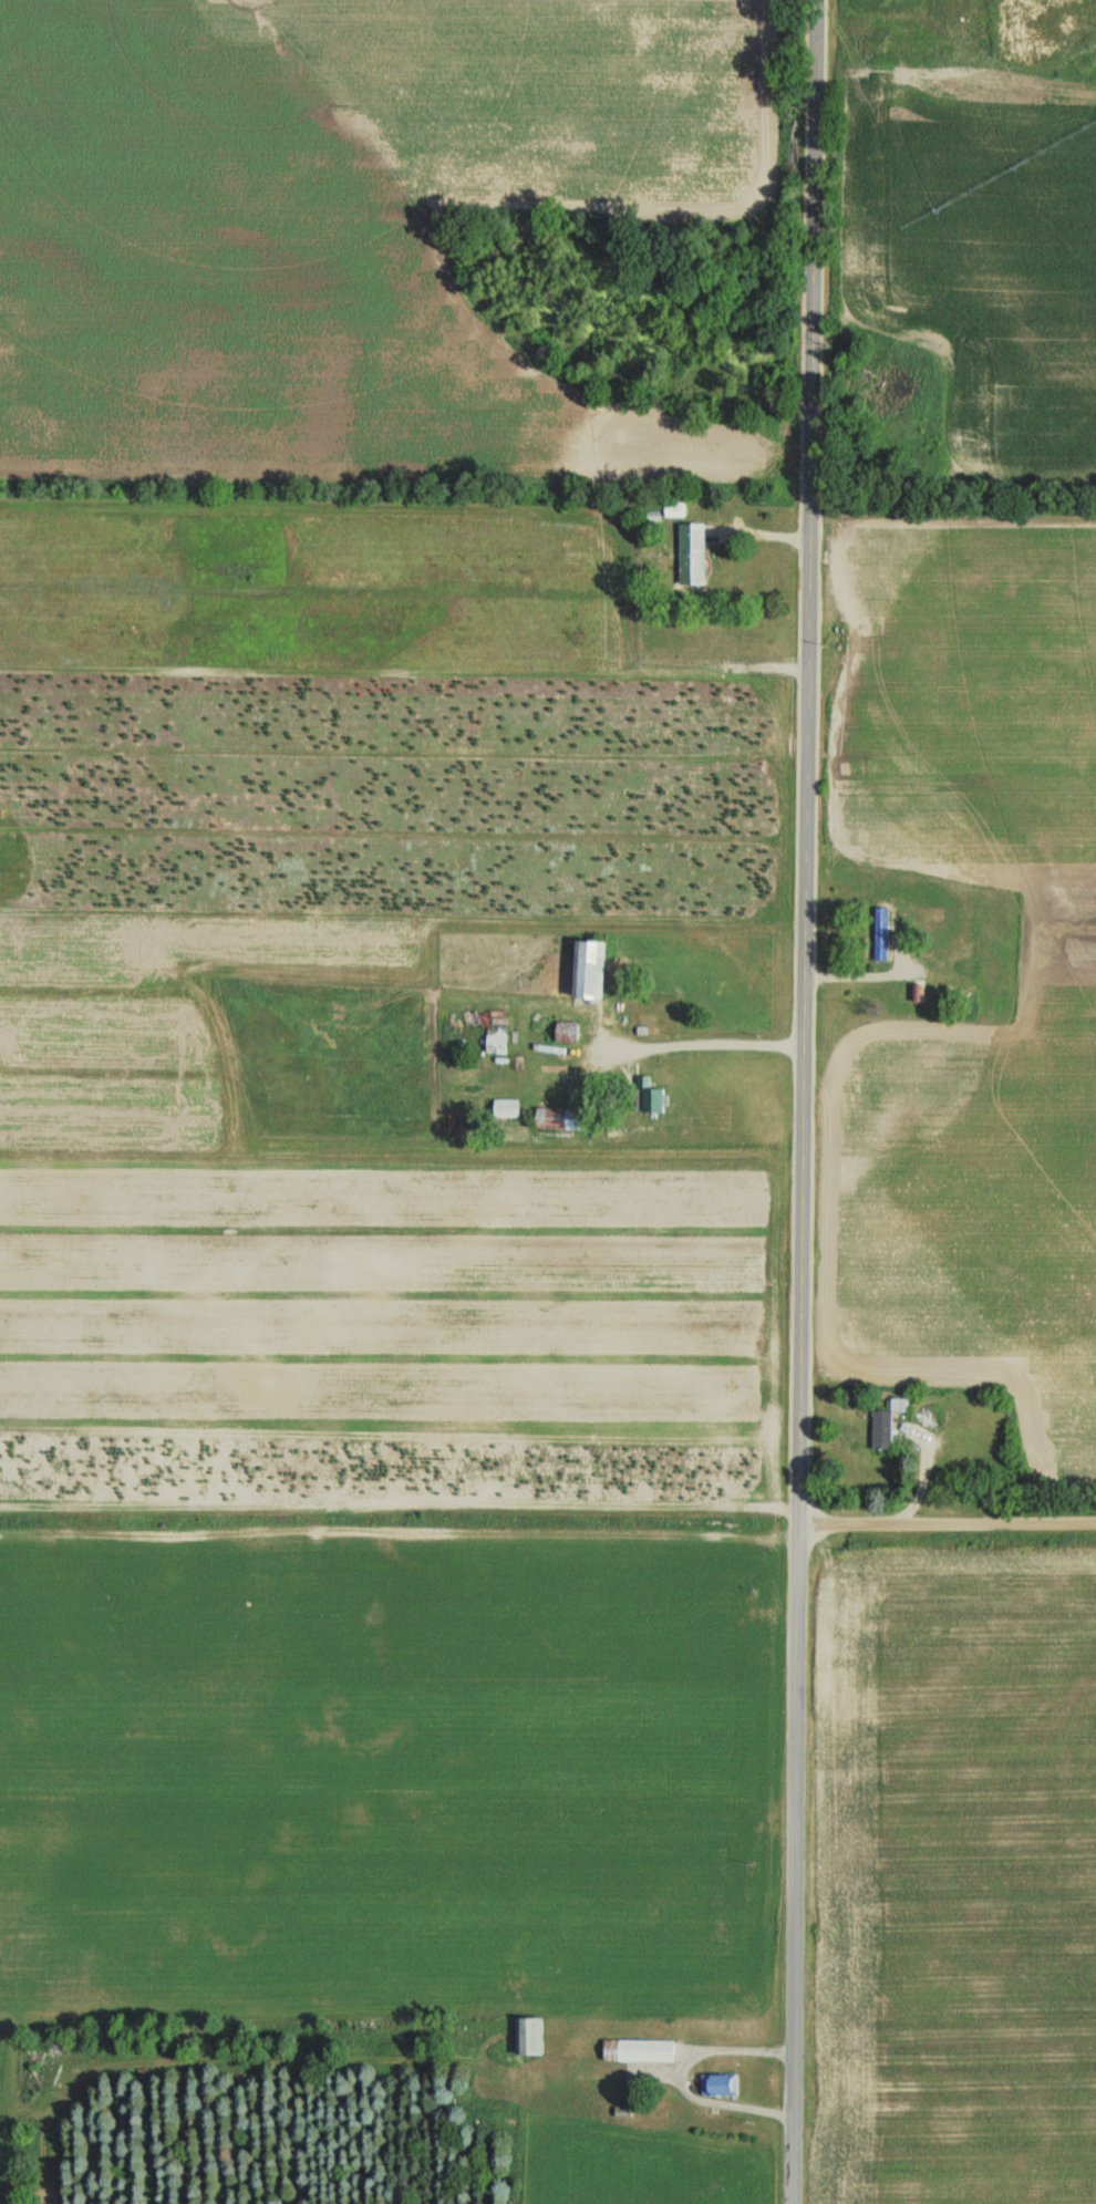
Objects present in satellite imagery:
building: (1028, 25)
building: (691, 555)
building: (879, 935)
building: (586, 970)
building: (914, 993)
building: (565, 1033)
building: (495, 1041)
road: (706, 1044)
building: (648, 1101)
road: (802, 1101)
building: (505, 1109)
building: (558, 1119)
building: (888, 1426)
road: (947, 1519)
building: (525, 2035)
building: (635, 2050)
building: (718, 2086)

